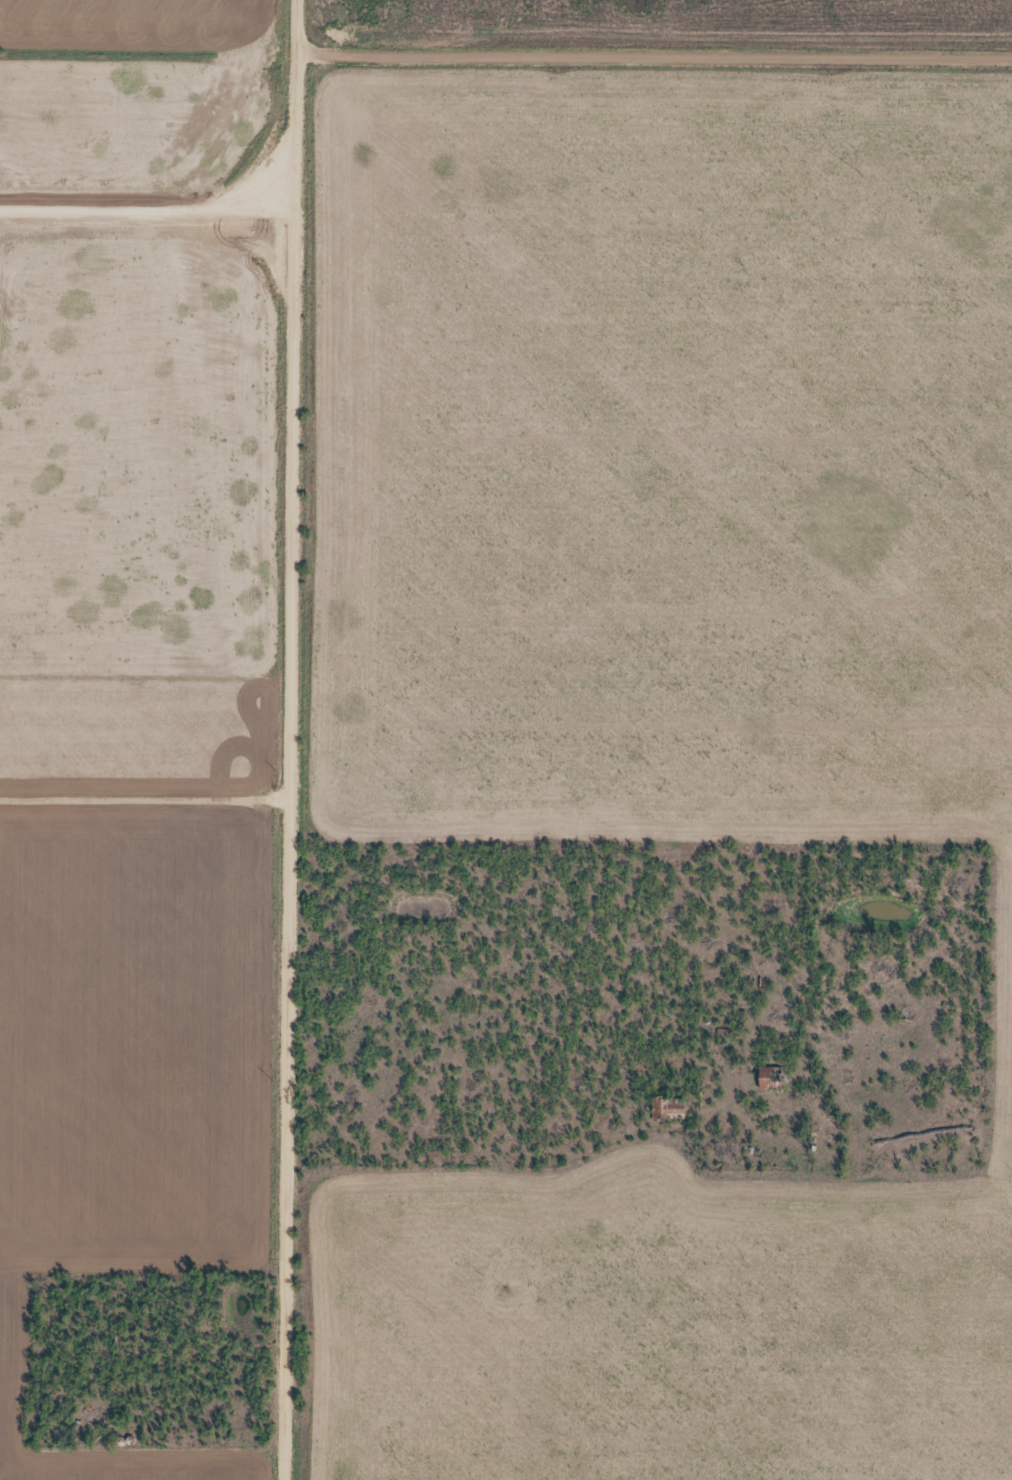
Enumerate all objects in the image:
road: (637, 71)
road: (253, 739)
road: (126, 794)
building: (769, 1078)
road: (499, 1169)

